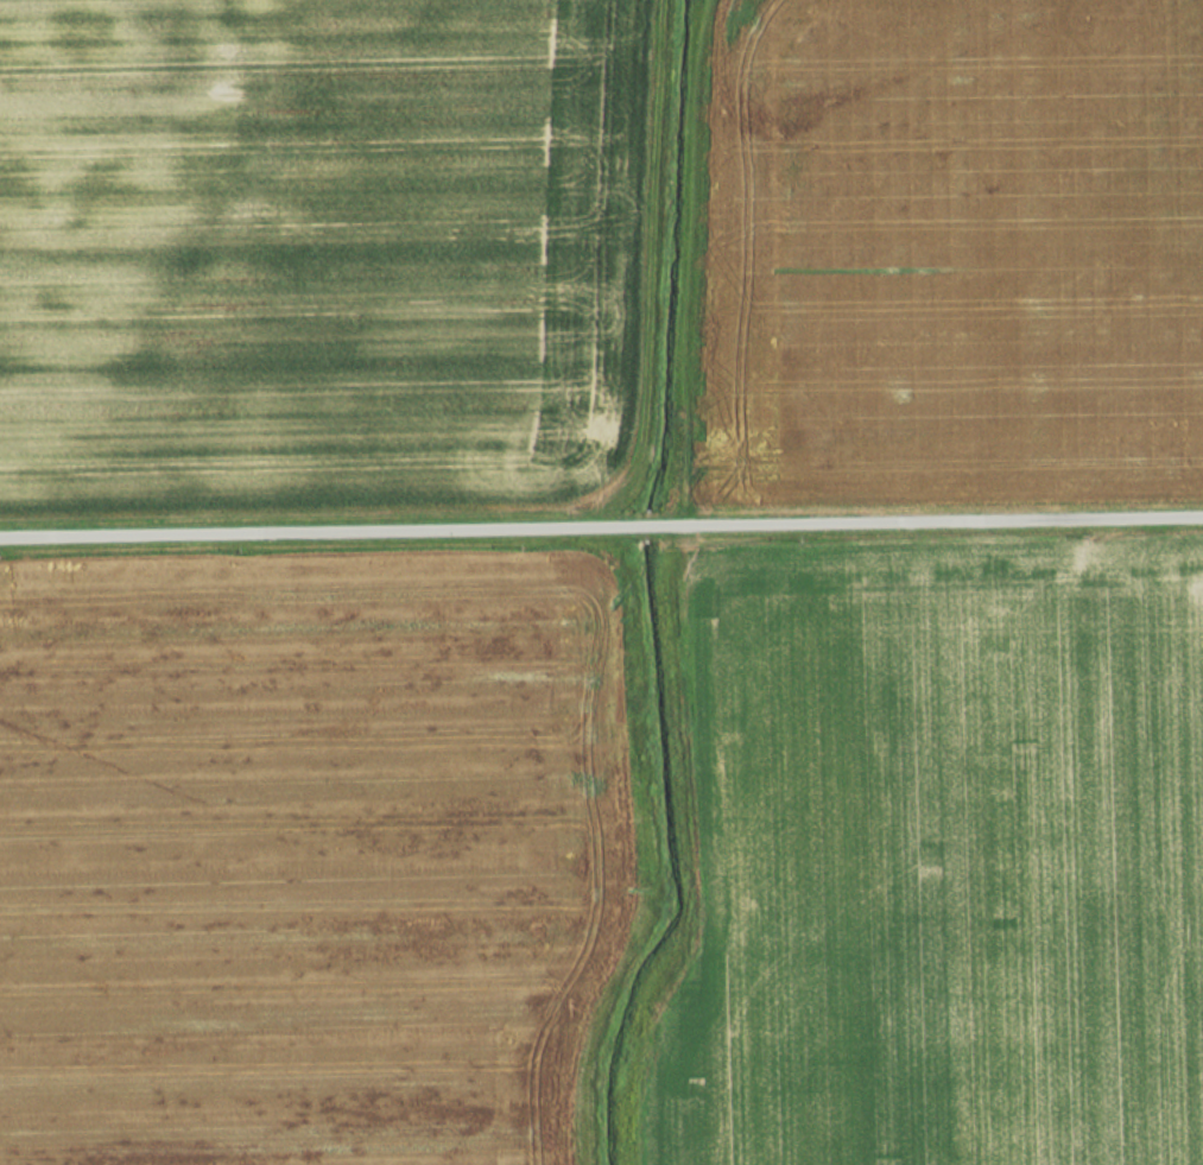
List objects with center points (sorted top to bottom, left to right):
crop: (305, 236)
crop: (954, 254)
road: (601, 527)
crop: (304, 855)
crop: (941, 863)

